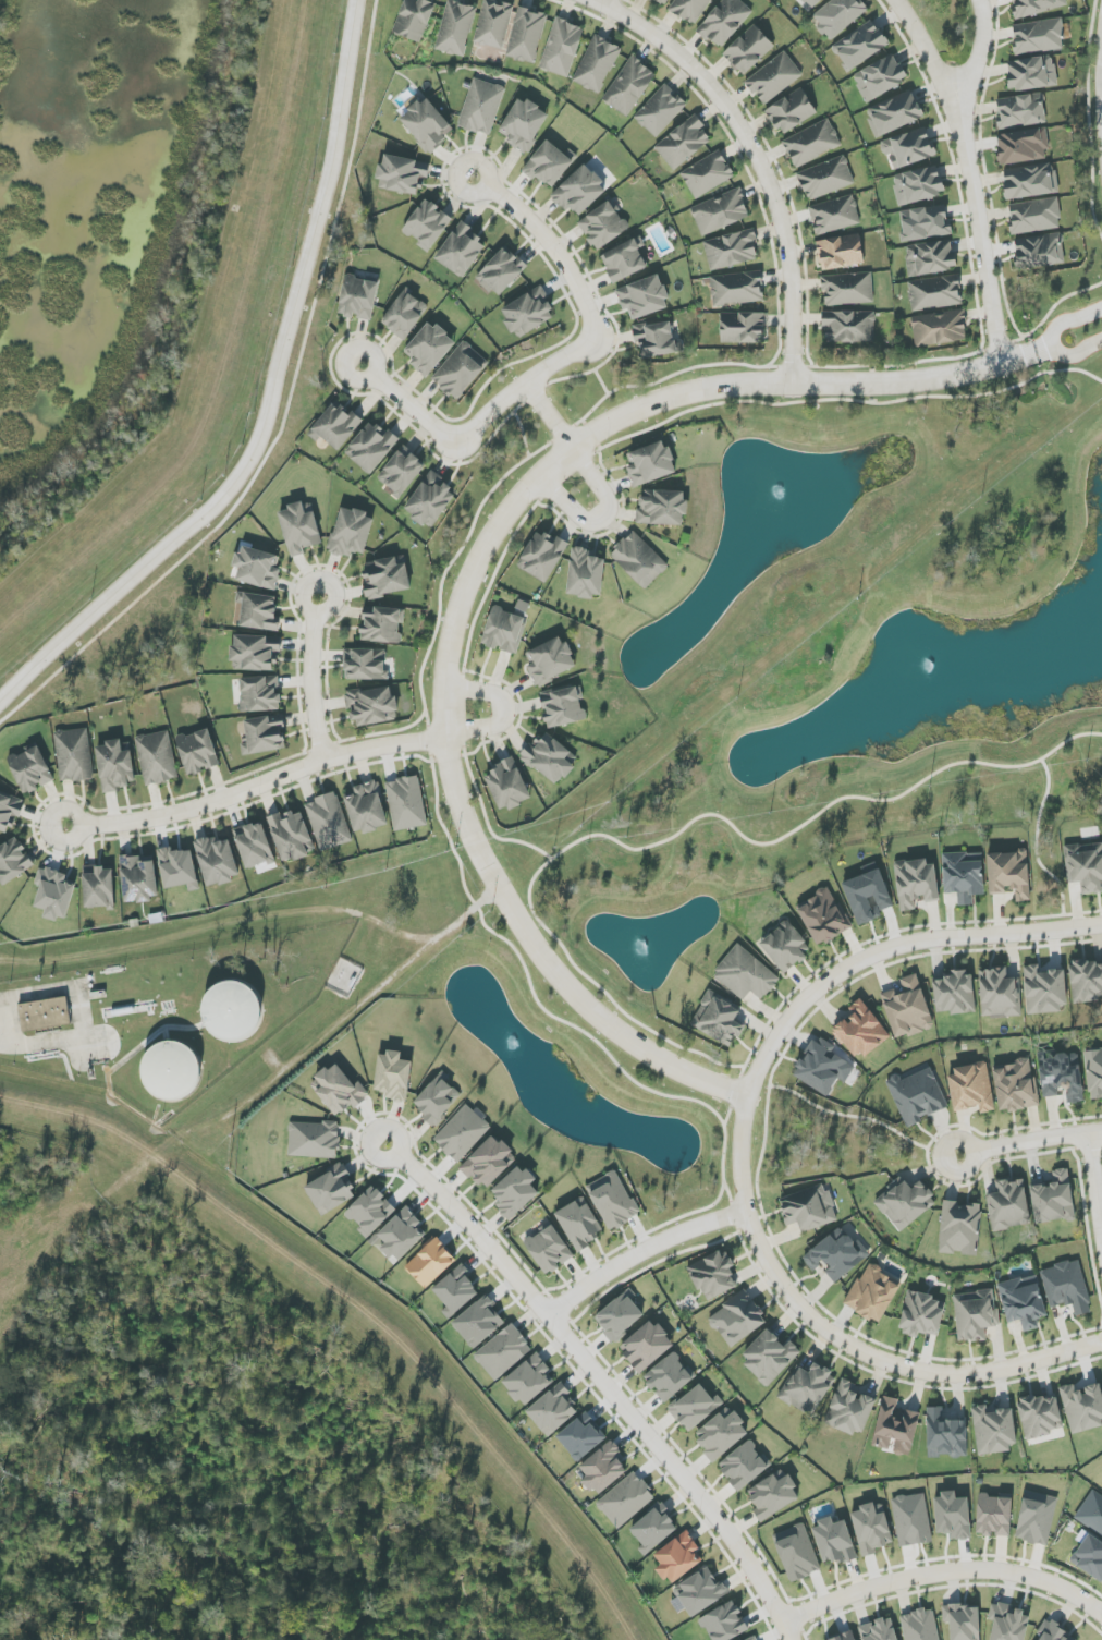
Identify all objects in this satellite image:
building: (662, 1)
road: (603, 2)
building: (810, 2)
building: (1034, 7)
building: (689, 9)
building: (838, 16)
building: (415, 19)
building: (724, 21)
building: (493, 24)
building: (455, 28)
building: (526, 35)
building: (1038, 36)
building: (861, 45)
building: (562, 48)
building: (748, 50)
road: (980, 50)
building: (597, 64)
building: (1031, 73)
building: (880, 77)
building: (773, 78)
building: (629, 86)
building: (481, 107)
building: (1021, 110)
building: (660, 111)
building: (792, 111)
building: (894, 113)
building: (427, 124)
building: (523, 124)
building: (683, 143)
building: (812, 143)
building: (1023, 146)
building: (908, 148)
road: (758, 157)
building: (550, 163)
road: (971, 172)
building: (402, 174)
building: (707, 174)
building: (825, 179)
building: (1030, 181)
building: (918, 185)
building: (580, 191)
building: (720, 212)
building: (834, 215)
building: (1034, 216)
building: (925, 223)
building: (427, 224)
building: (604, 224)
road: (554, 244)
building: (461, 250)
building: (731, 250)
building: (841, 252)
building: (1040, 252)
building: (930, 257)
building: (625, 260)
building: (501, 271)
building: (737, 289)
building: (847, 289)
building: (934, 293)
building: (644, 297)
building: (358, 299)
building: (528, 313)
building: (404, 315)
road: (1069, 320)
building: (849, 327)
building: (742, 328)
building: (939, 328)
building: (657, 340)
building: (429, 349)
road: (1042, 349)
road: (1075, 351)
road: (1074, 369)
building: (460, 370)
road: (525, 386)
road: (809, 401)
road: (270, 402)
road: (414, 404)
road: (286, 415)
road: (552, 415)
building: (334, 426)
building: (371, 447)
building: (650, 464)
building: (401, 472)
fountain: (773, 496)
building: (430, 500)
building: (662, 508)
road: (604, 517)
building: (299, 527)
building: (352, 533)
building: (542, 557)
building: (639, 560)
building: (257, 568)
building: (586, 574)
building: (387, 578)
road: (468, 582)
building: (259, 611)
building: (382, 625)
building: (504, 631)
building: (255, 653)
building: (550, 661)
building: (366, 664)
fountain: (931, 668)
road: (313, 677)
building: (259, 694)
building: (372, 705)
building: (563, 707)
road: (505, 709)
building: (265, 734)
building: (197, 752)
building: (74, 755)
building: (157, 757)
building: (550, 757)
building: (30, 769)
building: (507, 785)
road: (257, 786)
building: (406, 803)
building: (367, 809)
building: (9, 812)
road: (486, 814)
building: (328, 822)
building: (292, 835)
road: (668, 840)
building: (254, 846)
road: (1037, 846)
building: (13, 861)
building: (217, 861)
building: (1085, 866)
building: (179, 868)
building: (1009, 874)
building: (964, 876)
building: (139, 878)
building: (916, 883)
building: (99, 887)
building: (54, 894)
building: (868, 897)
building: (823, 918)
building: (785, 946)
fountain: (640, 949)
building: (746, 974)
building: (1087, 981)
building: (1044, 989)
building: (954, 994)
building: (1000, 994)
building: (907, 1008)
building: (233, 1011)
wastewater plant: (233, 1011)
building: (50, 1012)
building: (720, 1019)
road: (344, 1020)
building: (861, 1031)
road: (167, 1032)
fountain: (512, 1045)
building: (823, 1067)
road: (110, 1070)
building: (172, 1070)
wastewater plant: (171, 1071)
building: (1094, 1071)
building: (393, 1076)
building: (1062, 1077)
building: (1015, 1085)
building: (971, 1088)
building: (340, 1090)
building: (917, 1096)
building: (438, 1098)
road: (857, 1117)
building: (462, 1133)
building: (314, 1140)
road: (1030, 1141)
road: (742, 1157)
building: (489, 1162)
road: (1094, 1183)
building: (331, 1190)
building: (515, 1192)
building: (1052, 1198)
building: (613, 1200)
building: (906, 1204)
building: (1009, 1205)
building: (809, 1208)
building: (370, 1211)
building: (579, 1224)
building: (959, 1228)
building: (402, 1234)
building: (549, 1249)
road: (644, 1253)
building: (836, 1254)
building: (430, 1262)
building: (714, 1275)
building: (1066, 1287)
building: (457, 1290)
building: (873, 1293)
building: (1023, 1302)
building: (975, 1314)
building: (620, 1315)
building: (921, 1315)
building: (737, 1319)
building: (478, 1322)
building: (647, 1346)
building: (503, 1351)
building: (769, 1358)
building: (669, 1376)
road: (603, 1380)
building: (529, 1381)
building: (808, 1388)
building: (695, 1407)
building: (1082, 1407)
building: (850, 1409)
building: (552, 1410)
building: (1040, 1416)
building: (895, 1428)
building: (994, 1430)
building: (721, 1435)
building: (945, 1435)
building: (581, 1436)
building: (744, 1466)
building: (603, 1468)
building: (773, 1495)
building: (626, 1499)
building: (1091, 1513)
building: (994, 1515)
building: (952, 1516)
building: (1036, 1518)
building: (911, 1520)
building: (654, 1528)
building: (871, 1528)
building: (833, 1541)
building: (797, 1553)
building: (1091, 1557)
building: (678, 1558)
road: (942, 1571)
building: (702, 1592)
building: (963, 1621)
building: (724, 1623)
building: (1007, 1623)
building: (920, 1625)
building: (879, 1630)
building: (1054, 1632)
building: (845, 1637)
building: (755, 1639)

